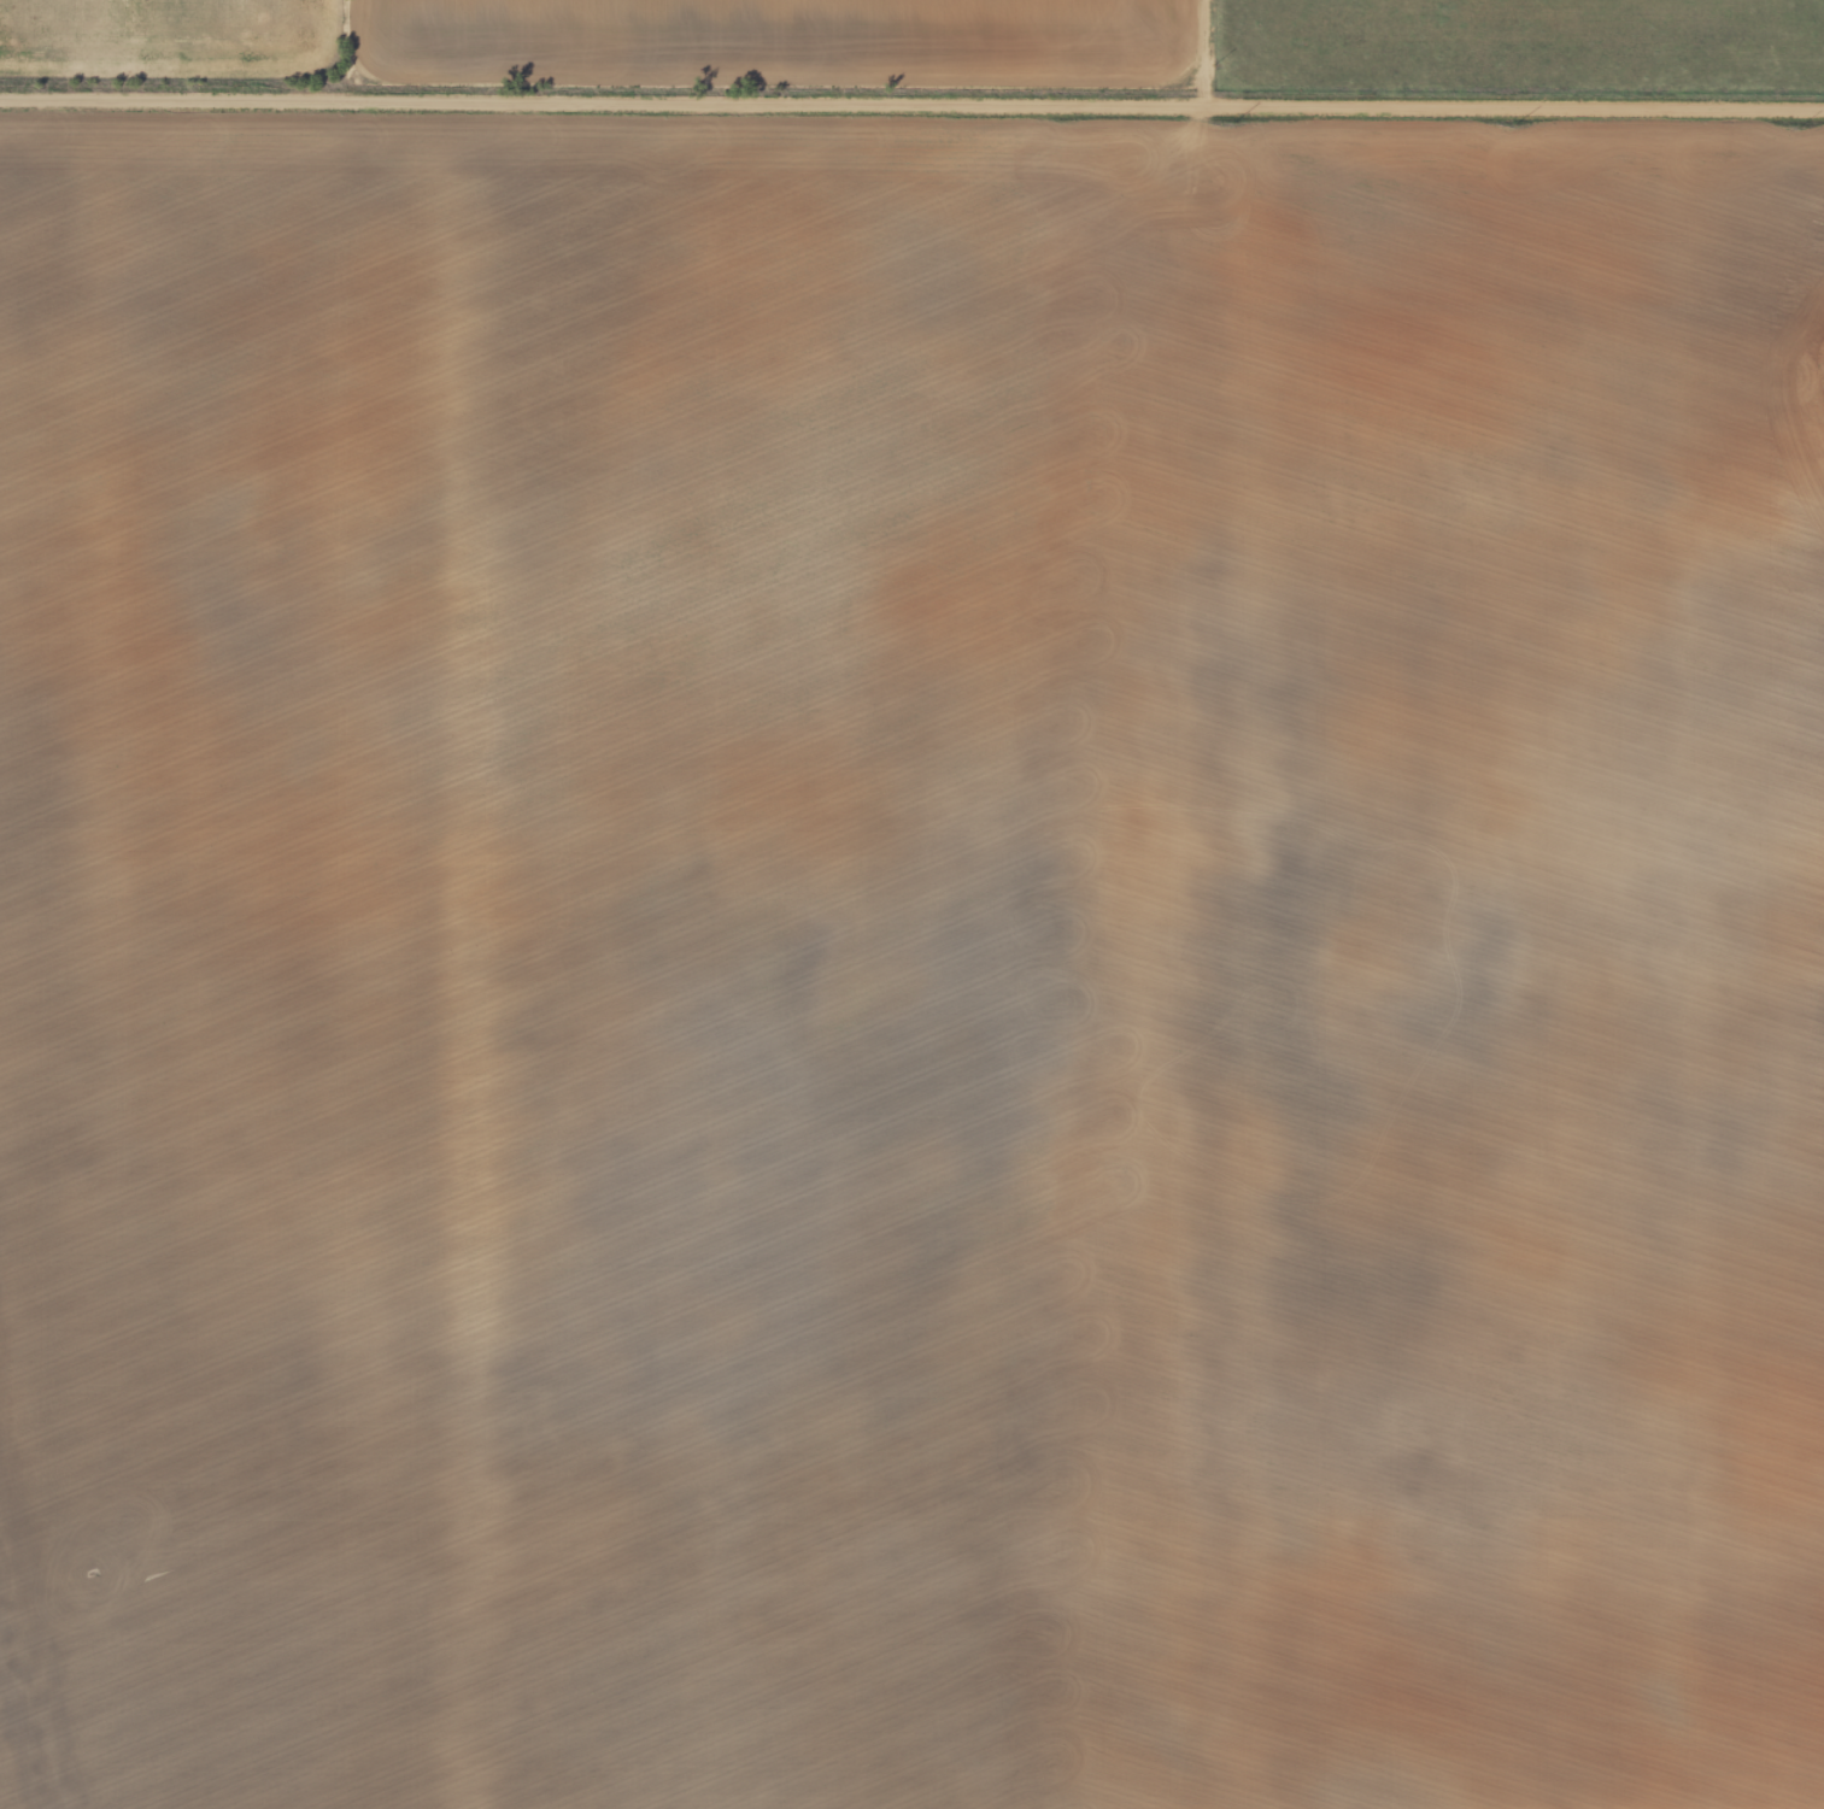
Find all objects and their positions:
road: (911, 130)

